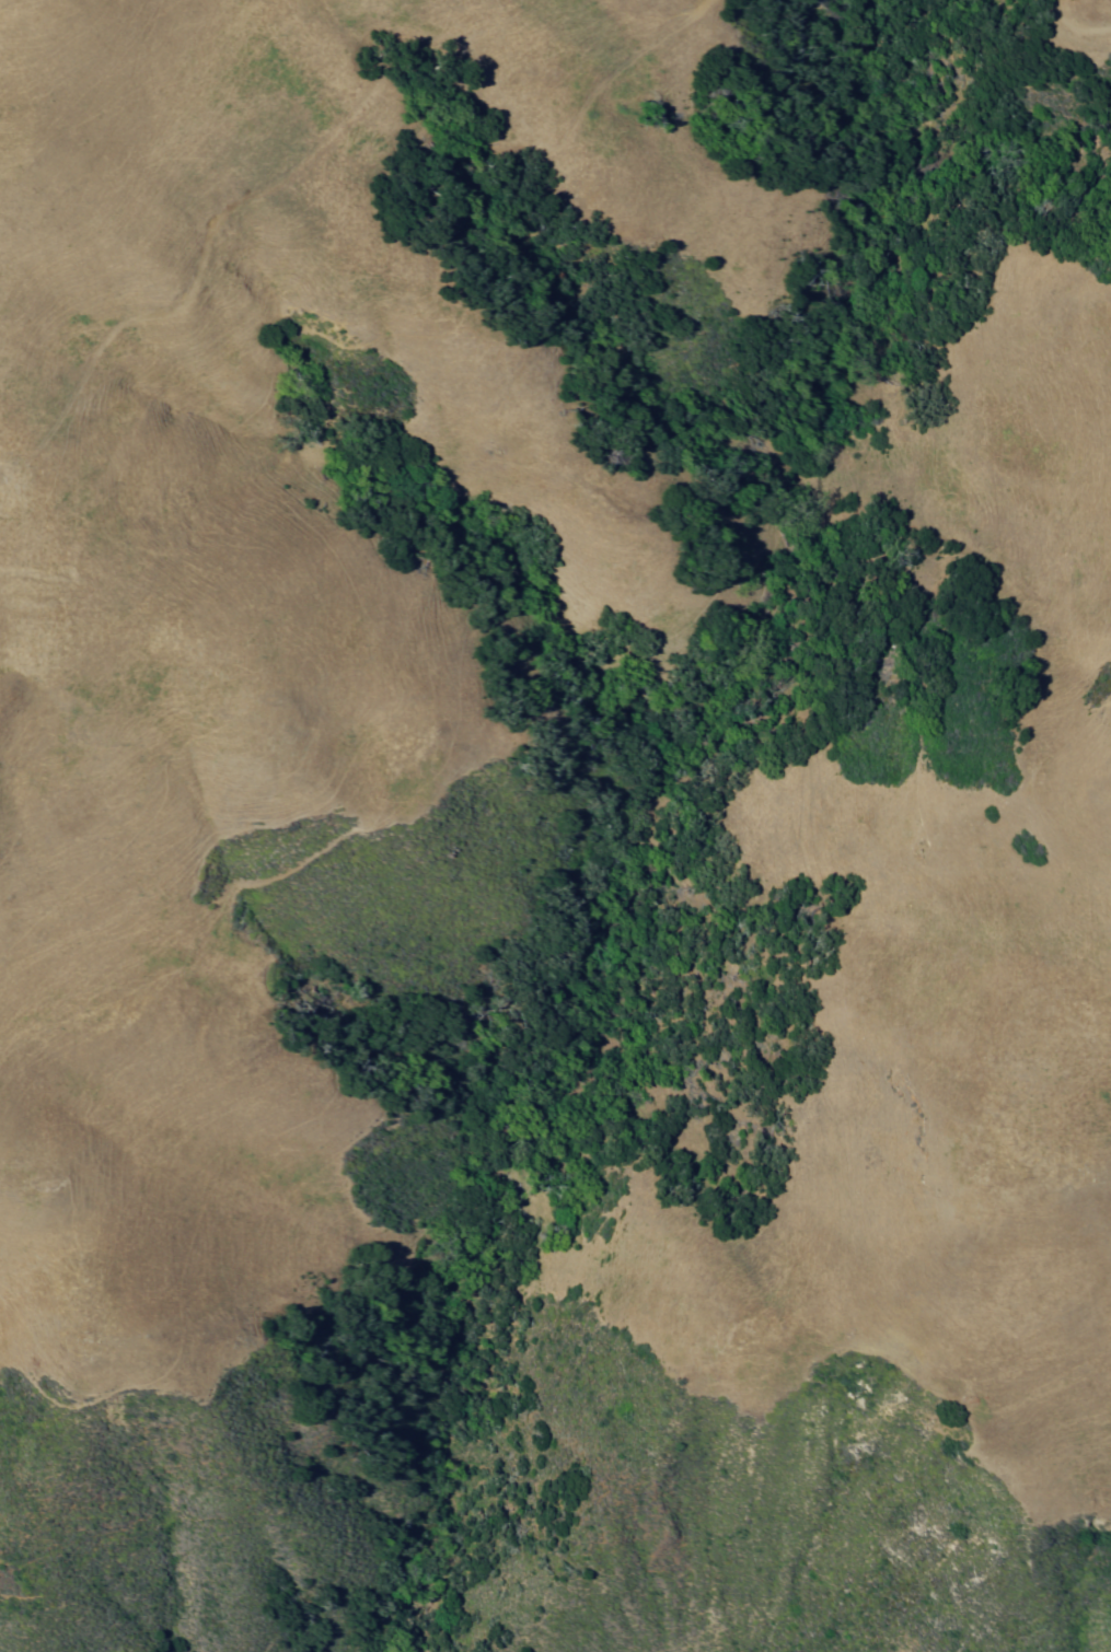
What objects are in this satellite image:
road: (1076, 28)
road: (347, 124)

